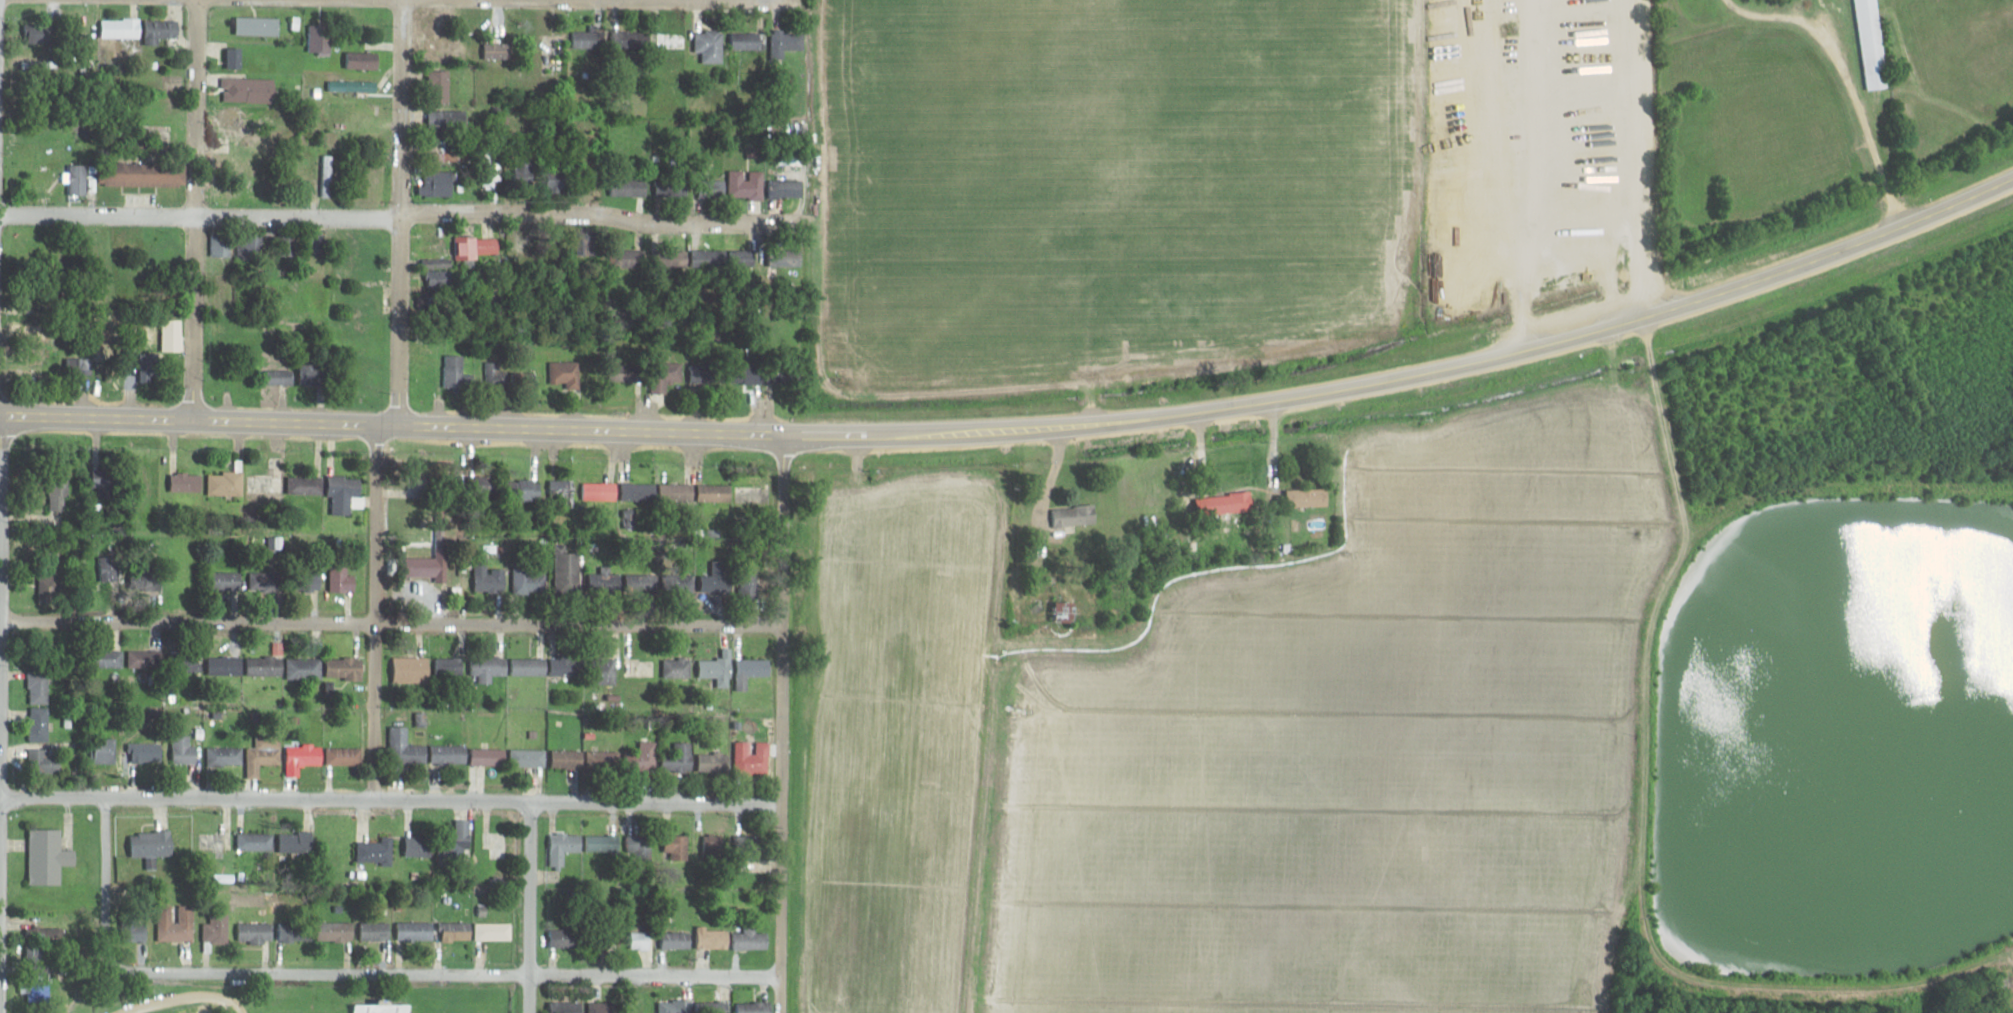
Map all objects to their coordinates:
road: (25, 1)
road: (660, 1)
building: (258, 25)
building: (121, 27)
building: (162, 29)
building: (38, 33)
building: (321, 38)
building: (589, 38)
building: (746, 40)
building: (1866, 44)
building: (710, 45)
building: (788, 45)
building: (234, 57)
building: (363, 60)
building: (31, 64)
building: (442, 85)
road: (1846, 85)
building: (352, 86)
building: (246, 89)
building: (235, 116)
building: (442, 136)
road: (1643, 160)
building: (523, 169)
building: (142, 174)
building: (492, 176)
building: (556, 180)
building: (438, 182)
building: (755, 184)
building: (713, 185)
building: (630, 187)
building: (674, 187)
building: (788, 188)
road: (195, 210)
road: (401, 212)
road: (389, 214)
building: (525, 241)
building: (584, 243)
building: (220, 244)
building: (287, 244)
building: (251, 246)
building: (468, 247)
building: (787, 257)
building: (629, 258)
building: (672, 258)
building: (730, 258)
building: (440, 272)
building: (172, 335)
building: (219, 337)
building: (79, 365)
building: (28, 367)
building: (458, 371)
building: (627, 371)
building: (315, 373)
building: (498, 373)
building: (565, 373)
building: (707, 373)
building: (755, 373)
building: (666, 374)
road: (1413, 375)
building: (279, 376)
road: (392, 426)
building: (187, 482)
building: (269, 482)
building: (226, 484)
building: (308, 486)
building: (528, 490)
building: (599, 491)
building: (640, 491)
road: (1751, 491)
building: (677, 492)
building: (344, 493)
building: (562, 493)
building: (715, 493)
building: (60, 494)
building: (1302, 497)
building: (1217, 503)
building: (1060, 516)
building: (430, 563)
building: (109, 568)
building: (567, 569)
building: (312, 577)
building: (528, 578)
building: (266, 579)
building: (342, 579)
building: (489, 579)
building: (226, 580)
building: (605, 581)
building: (644, 582)
building: (750, 584)
building: (50, 589)
building: (1054, 611)
road: (373, 614)
road: (390, 626)
road: (1635, 655)
building: (109, 657)
building: (145, 658)
building: (226, 665)
building: (266, 665)
building: (488, 665)
building: (568, 665)
building: (450, 666)
building: (529, 666)
building: (345, 667)
building: (715, 667)
building: (305, 668)
building: (677, 668)
building: (411, 669)
building: (608, 669)
building: (752, 670)
building: (39, 686)
building: (39, 723)
road: (779, 723)
building: (105, 750)
building: (184, 750)
building: (423, 750)
building: (147, 751)
building: (263, 754)
building: (224, 755)
building: (302, 755)
building: (344, 756)
building: (489, 756)
building: (528, 757)
building: (752, 757)
building: (43, 758)
building: (567, 758)
building: (644, 758)
building: (679, 758)
building: (603, 761)
building: (714, 762)
road: (388, 803)
building: (211, 842)
building: (255, 842)
building: (151, 843)
building: (298, 843)
building: (604, 843)
building: (496, 845)
building: (640, 845)
building: (419, 846)
building: (715, 846)
building: (564, 847)
building: (677, 847)
building: (455, 849)
building: (376, 851)
building: (48, 856)
road: (530, 908)
building: (175, 923)
building: (215, 929)
building: (295, 931)
building: (336, 931)
building: (375, 931)
building: (416, 931)
building: (457, 931)
building: (493, 931)
building: (255, 932)
building: (567, 938)
building: (752, 938)
building: (714, 939)
building: (641, 940)
building: (677, 940)
building: (36, 953)
road: (361, 973)
building: (37, 991)
building: (567, 1006)
building: (676, 1006)
building: (714, 1006)
building: (755, 1007)
building: (382, 1008)

